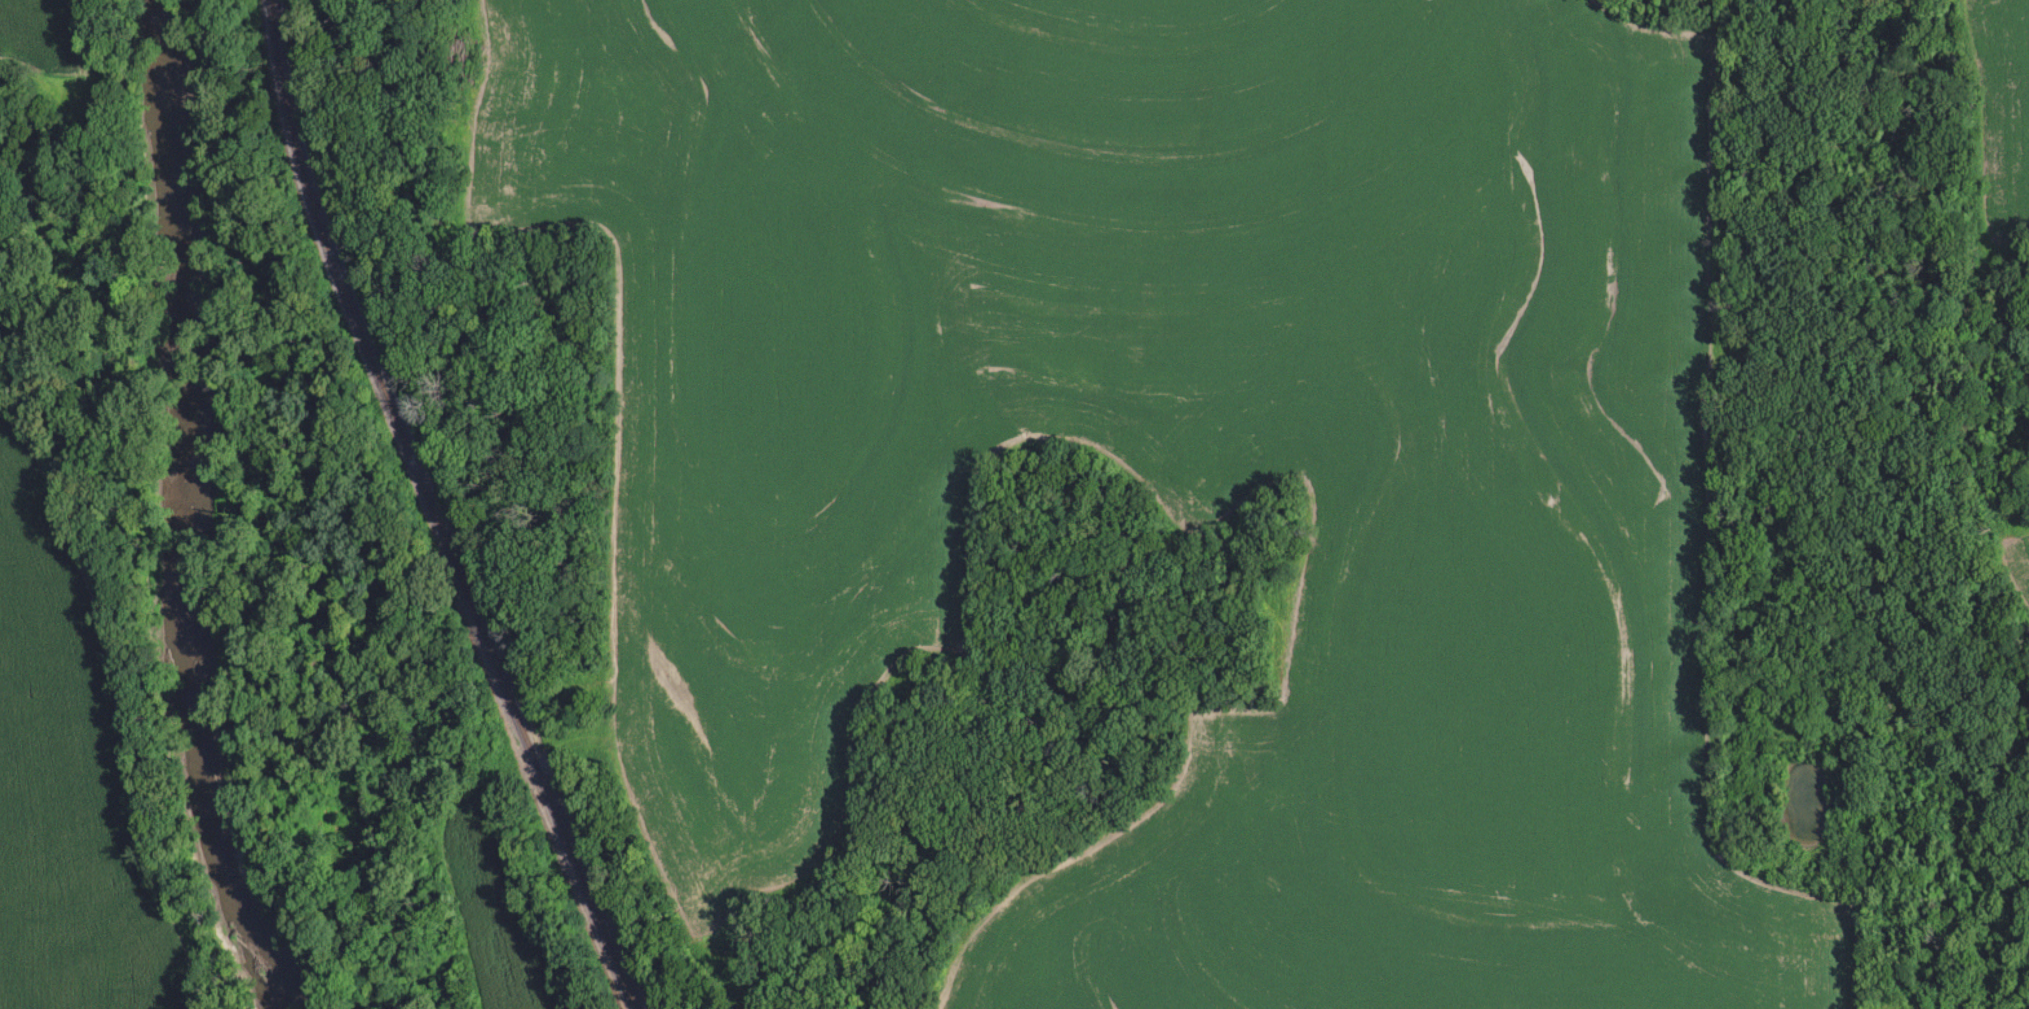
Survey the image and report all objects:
railway: (430, 511)
river: (188, 512)

